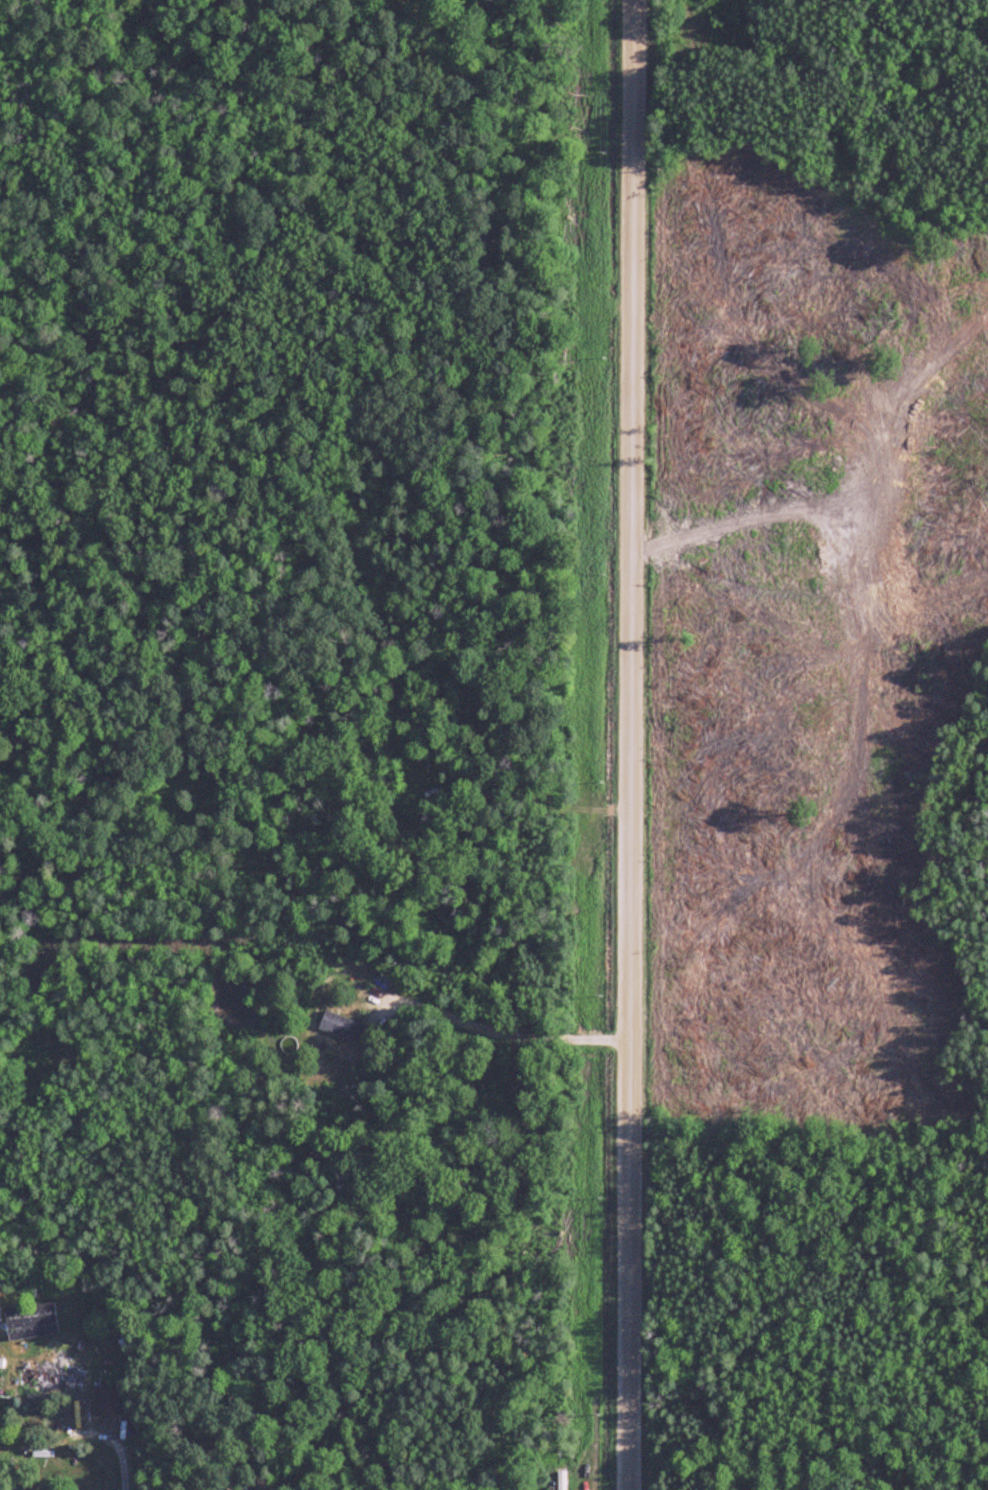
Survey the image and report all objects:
road: (628, 745)
building: (342, 1027)
road: (504, 1032)
building: (1, 1363)
building: (50, 1378)
building: (106, 1401)
road: (82, 1433)

